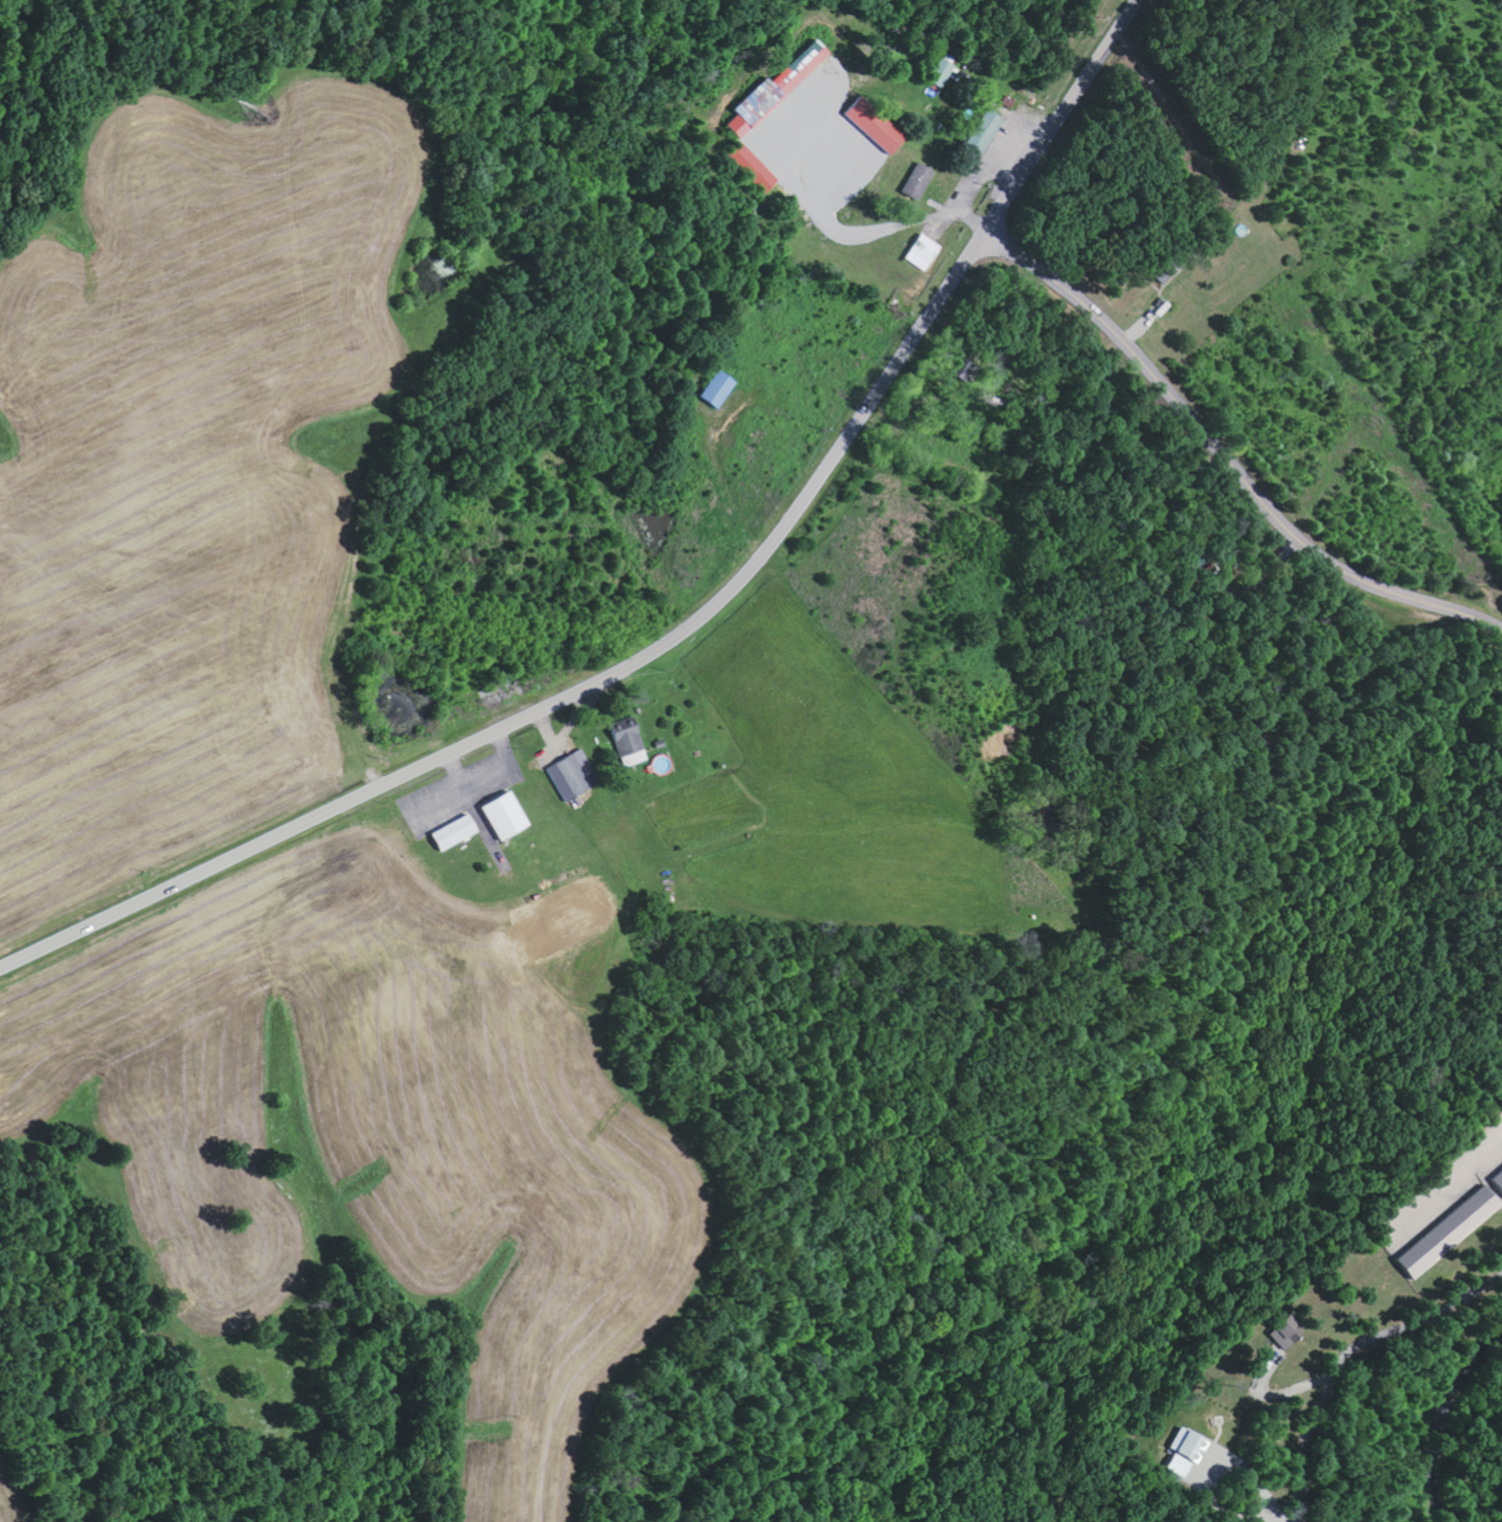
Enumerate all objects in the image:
building: (943, 72)
building: (776, 89)
building: (878, 124)
building: (987, 130)
building: (753, 167)
building: (921, 181)
building: (924, 252)
building: (718, 389)
road: (1225, 461)
road: (690, 625)
building: (630, 744)
building: (574, 775)
building: (506, 816)
building: (455, 833)
building: (1499, 1176)
building: (1452, 1231)
building: (1288, 1332)
building: (1188, 1450)

